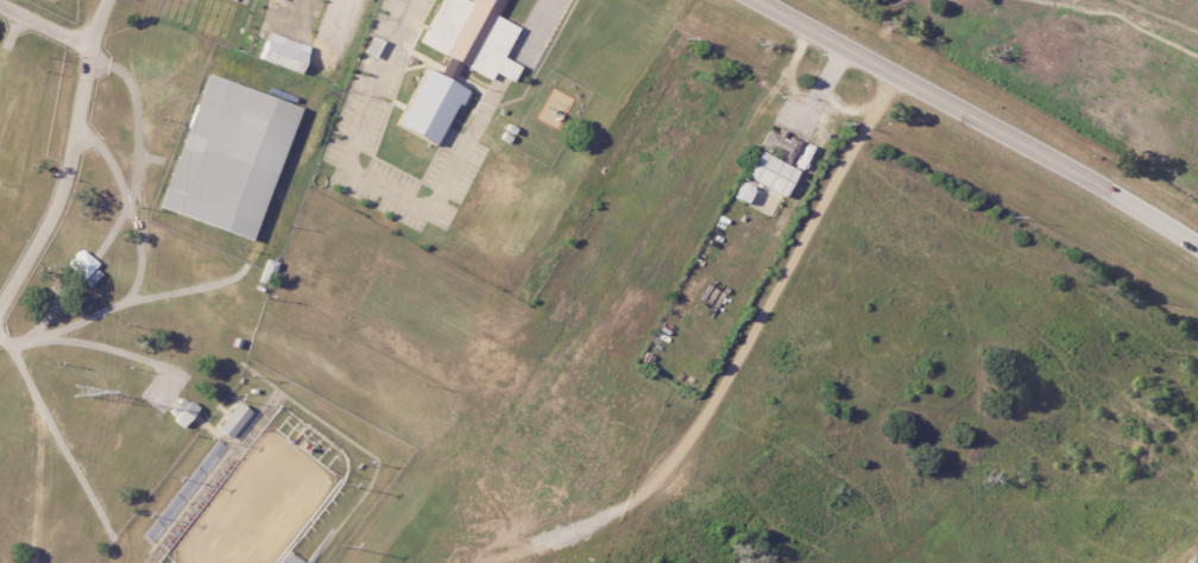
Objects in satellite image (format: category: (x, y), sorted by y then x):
building: (276, 1)
road: (48, 21)
road: (347, 21)
road: (529, 27)
building: (280, 52)
building: (464, 59)
park: (1077, 62)
road: (975, 119)
building: (783, 146)
building: (233, 158)
road: (74, 162)
building: (776, 177)
road: (370, 179)
park: (127, 251)
building: (265, 272)
road: (737, 366)
power tower: (82, 391)
building: (179, 411)
building: (231, 420)
road: (56, 439)
road: (50, 501)
building: (286, 559)

